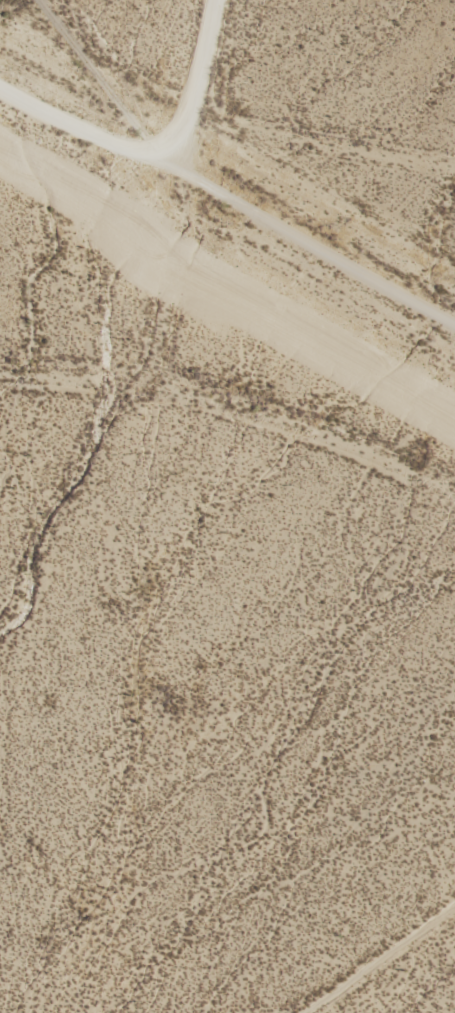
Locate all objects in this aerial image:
road: (106, 78)
road: (85, 124)
road: (321, 138)
road: (163, 203)
road: (315, 234)
road: (235, 417)

